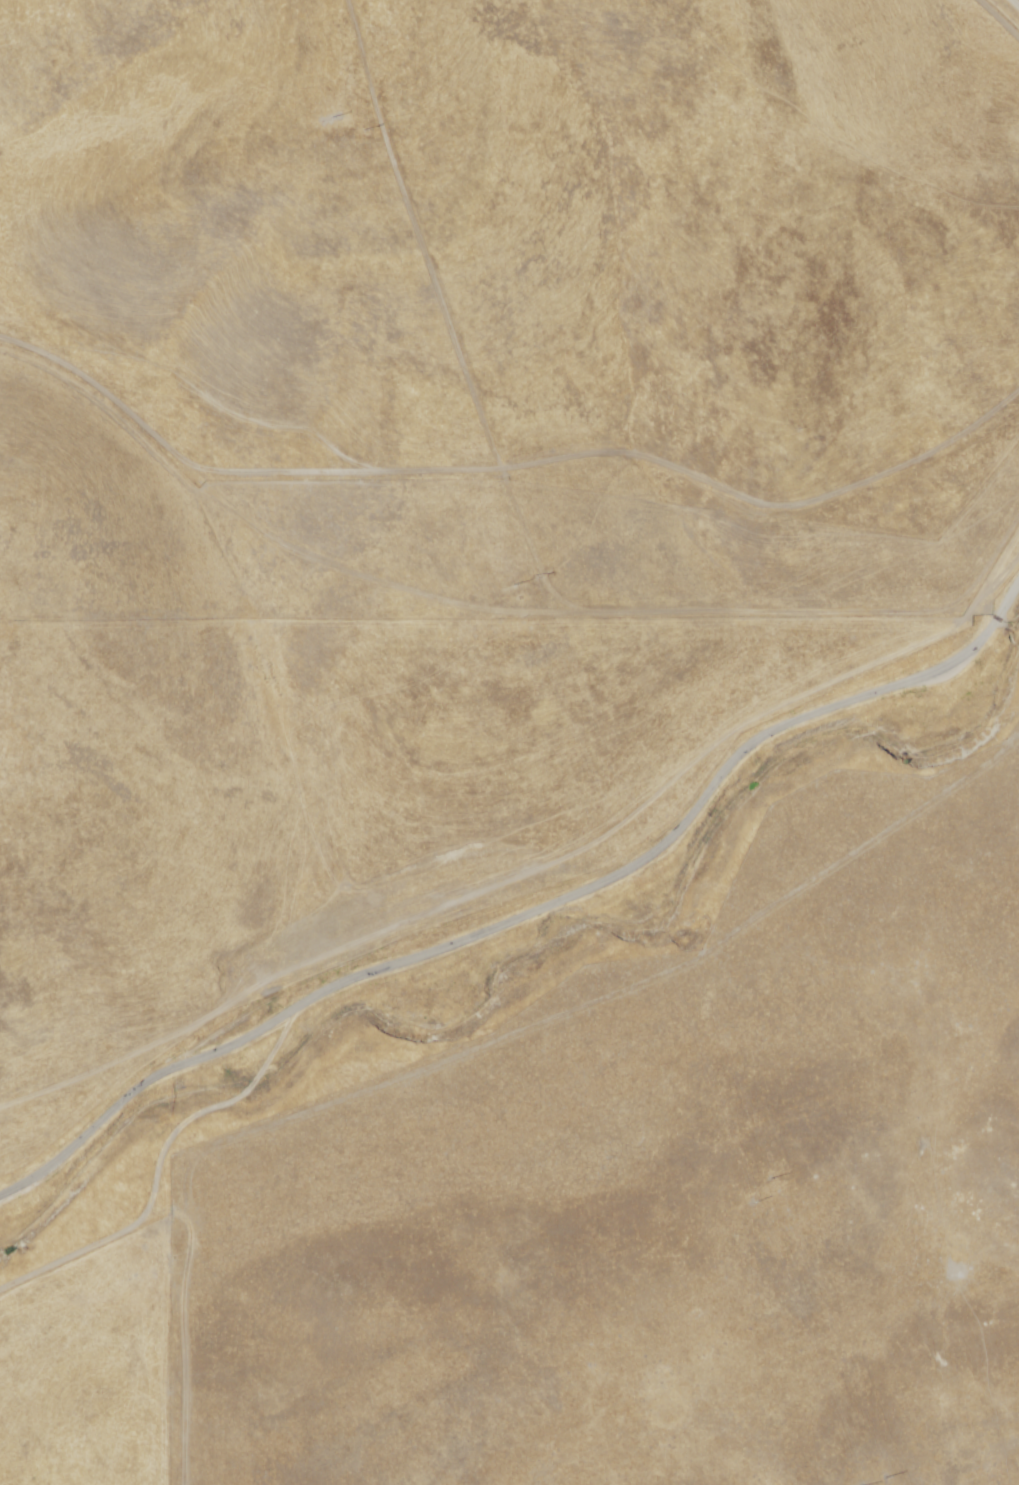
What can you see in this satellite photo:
road: (972, 83)
road: (521, 913)

